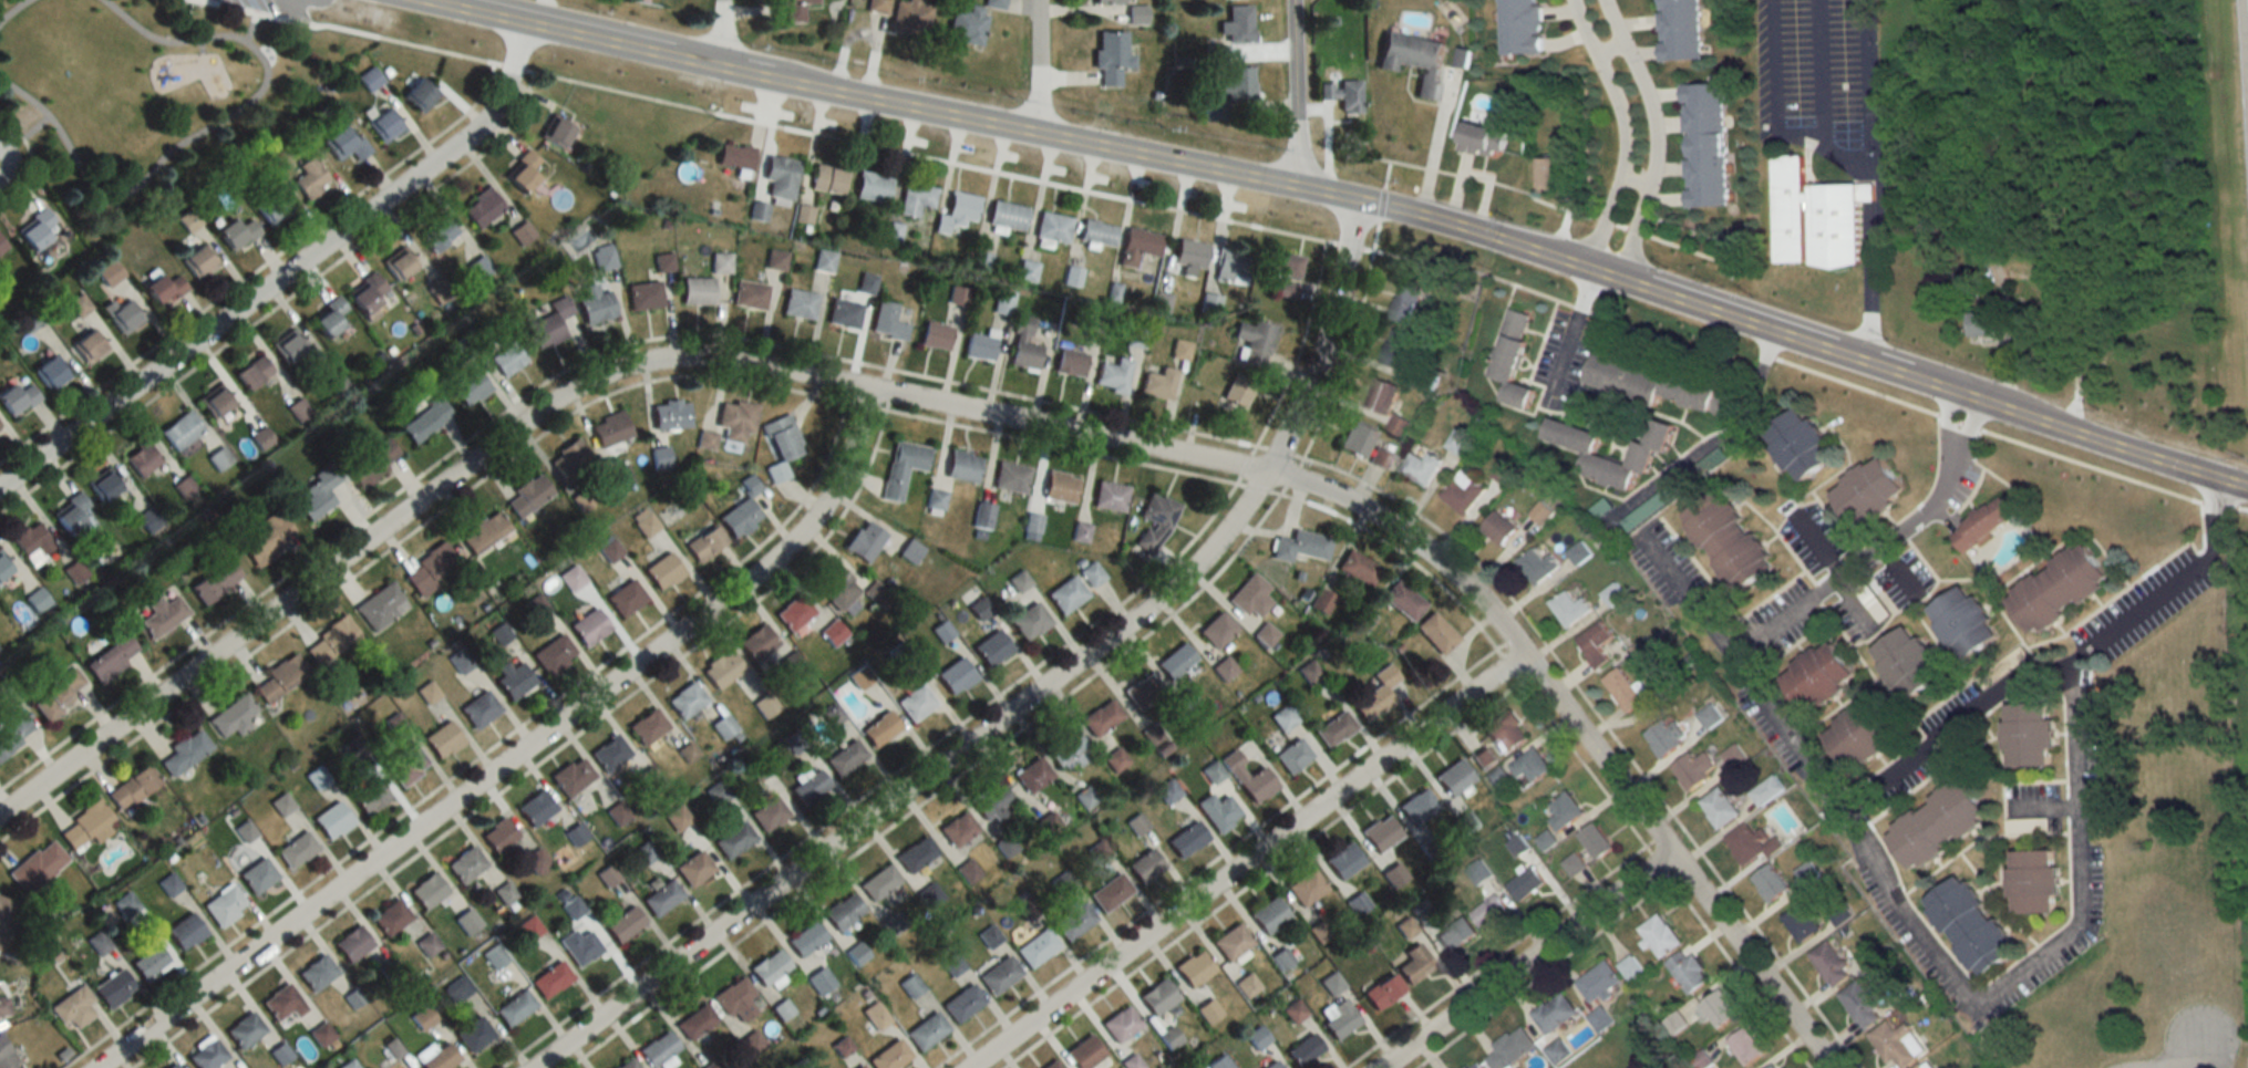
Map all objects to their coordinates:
road: (440, 2)
building: (1111, 2)
building: (993, 3)
road: (12, 10)
building: (795, 10)
building: (1136, 15)
building: (908, 17)
building: (966, 24)
building: (1237, 24)
building: (1517, 27)
building: (1677, 30)
road: (721, 34)
road: (184, 41)
road: (202, 45)
road: (1606, 49)
building: (1110, 58)
building: (1413, 60)
road: (1771, 64)
road: (1035, 69)
road: (1818, 73)
building: (370, 80)
road: (1867, 83)
park: (158, 87)
building: (1230, 91)
road: (1295, 92)
building: (419, 95)
building: (1342, 95)
road: (45, 117)
building: (384, 125)
road: (1623, 129)
building: (555, 132)
road: (1653, 134)
building: (1481, 141)
building: (343, 145)
building: (1703, 145)
road: (1435, 148)
road: (166, 157)
building: (734, 157)
building: (528, 158)
road: (32, 163)
building: (1547, 176)
road: (1635, 177)
building: (310, 178)
building: (520, 178)
building: (780, 178)
building: (827, 179)
building: (872, 187)
road: (1347, 196)
building: (915, 198)
building: (482, 207)
building: (271, 209)
road: (1864, 211)
building: (957, 212)
building: (1817, 212)
building: (1007, 216)
road: (1216, 218)
building: (1052, 228)
building: (37, 231)
building: (522, 232)
building: (236, 234)
building: (1096, 234)
building: (437, 235)
building: (1140, 246)
building: (1, 248)
building: (1189, 253)
building: (604, 258)
building: (775, 260)
building: (198, 261)
building: (824, 261)
building: (720, 263)
building: (399, 265)
building: (1281, 265)
building: (1233, 266)
building: (479, 268)
building: (107, 273)
road: (287, 274)
building: (866, 283)
building: (162, 289)
building: (1287, 289)
building: (697, 291)
building: (750, 294)
building: (367, 295)
building: (645, 295)
building: (1210, 303)
building: (798, 304)
building: (1404, 304)
building: (79, 305)
building: (595, 305)
building: (843, 313)
building: (124, 317)
building: (330, 318)
building: (888, 322)
building: (550, 323)
building: (1977, 323)
building: (1254, 335)
road: (1570, 335)
building: (935, 336)
building: (1137, 338)
building: (1023, 345)
building: (90, 346)
building: (979, 346)
building: (288, 348)
building: (1396, 349)
building: (1182, 350)
building: (1510, 359)
building: (507, 360)
building: (1070, 363)
building: (252, 372)
building: (50, 373)
building: (1113, 375)
building: (337, 383)
building: (1158, 383)
building: (468, 387)
building: (1657, 387)
building: (1238, 391)
road: (570, 393)
building: (1380, 396)
building: (17, 400)
building: (214, 403)
building: (670, 415)
building: (736, 421)
building: (426, 422)
building: (1396, 425)
building: (610, 429)
building: (181, 431)
building: (1357, 439)
road: (1718, 439)
building: (707, 440)
building: (1456, 442)
building: (1798, 445)
building: (782, 446)
building: (1640, 454)
building: (661, 457)
building: (1379, 457)
building: (142, 458)
building: (219, 459)
building: (570, 462)
building: (373, 463)
building: (961, 466)
building: (903, 467)
building: (1419, 468)
building: (620, 476)
building: (1011, 477)
building: (749, 485)
building: (104, 486)
building: (185, 487)
building: (1060, 487)
building: (1461, 491)
building: (1866, 492)
building: (318, 494)
building: (527, 495)
building: (1110, 496)
building: (935, 501)
building: (74, 516)
building: (982, 516)
building: (739, 518)
building: (149, 519)
building: (1155, 521)
building: (645, 522)
building: (1980, 523)
building: (1496, 528)
building: (482, 531)
building: (1081, 531)
building: (269, 538)
building: (864, 540)
building: (1725, 540)
building: (32, 542)
building: (704, 545)
building: (1300, 546)
road: (1879, 549)
building: (910, 550)
building: (1536, 566)
building: (3, 567)
building: (1358, 568)
building: (429, 570)
building: (662, 571)
building: (1091, 573)
building: (1019, 580)
building: (215, 581)
building: (835, 585)
building: (2054, 589)
building: (1066, 593)
building: (1611, 594)
building: (1250, 595)
building: (626, 598)
building: (1403, 600)
building: (1322, 601)
road: (1685, 604)
building: (381, 606)
building: (1568, 608)
building: (794, 612)
building: (163, 615)
building: (1362, 619)
building: (1029, 621)
building: (1961, 621)
building: (589, 626)
building: (1217, 630)
building: (832, 632)
building: (1436, 632)
building: (1265, 634)
building: (333, 639)
building: (756, 642)
building: (1594, 644)
building: (991, 646)
building: (554, 654)
building: (111, 659)
building: (1175, 661)
building: (1906, 661)
road: (2058, 667)
building: (721, 668)
building: (1224, 668)
building: (1309, 672)
building: (955, 675)
building: (1816, 675)
building: (281, 680)
building: (514, 681)
building: (1622, 689)
building: (1142, 692)
building: (1376, 694)
building: (56, 696)
road: (1031, 696)
building: (685, 699)
building: (915, 702)
building: (479, 709)
building: (1709, 716)
building: (234, 717)
building: (1101, 717)
building: (1283, 718)
building: (647, 726)
building: (723, 726)
building: (11, 727)
building: (879, 728)
building: (1334, 728)
road: (1582, 729)
building: (1505, 733)
building: (1859, 733)
building: (1152, 734)
building: (2027, 734)
building: (1663, 736)
building: (442, 739)
road: (1786, 742)
building: (1068, 749)
building: (186, 751)
building: (610, 753)
building: (1292, 755)
building: (1732, 756)
road: (517, 757)
building: (845, 757)
building: (1483, 758)
building: (408, 764)
building: (1529, 765)
building: (1692, 768)
building: (1031, 775)
building: (573, 776)
building: (1496, 776)
building: (1248, 777)
building: (1454, 777)
building: (810, 787)
building: (132, 788)
building: (716, 792)
building: (370, 795)
building: (1086, 798)
building: (991, 803)
building: (1417, 806)
building: (535, 807)
building: (1718, 807)
building: (1217, 810)
building: (1564, 810)
building: (769, 812)
building: (678, 818)
building: (332, 819)
building: (1936, 823)
building: (1048, 825)
building: (2025, 825)
building: (86, 826)
building: (957, 828)
building: (1381, 833)
building: (498, 834)
building: (577, 834)
building: (734, 839)
building: (1186, 839)
building: (1545, 839)
building: (1594, 840)
building: (1747, 843)
building: (1004, 846)
building: (1517, 846)
building: (297, 848)
building: (646, 852)
building: (915, 853)
road: (1245, 859)
building: (536, 860)
building: (1342, 860)
building: (465, 863)
building: (1572, 863)
building: (1145, 865)
building: (38, 867)
building: (694, 867)
building: (967, 871)
building: (258, 874)
building: (1394, 874)
building: (2032, 880)
building: (878, 882)
building: (1769, 882)
building: (1525, 883)
building: (1306, 886)
building: (427, 891)
building: (1110, 892)
building: (661, 896)
building: (225, 905)
building: (1027, 910)
building: (843, 911)
building: (1488, 911)
building: (3, 912)
building: (1268, 915)
building: (390, 916)
building: (1072, 920)
building: (466, 921)
building: (1800, 922)
building: (623, 923)
building: (893, 924)
building: (1969, 924)
building: (185, 931)
building: (1456, 935)
building: (1659, 935)
building: (805, 939)
building: (1231, 942)
building: (352, 943)
building: (427, 944)
building: (579, 946)
building: (1035, 947)
building: (856, 953)
building: (495, 956)
road: (1523, 957)
road: (2041, 957)
building: (149, 960)
building: (1828, 963)
building: (1414, 964)
building: (952, 965)
building: (769, 967)
building: (1629, 967)
building: (1193, 968)
building: (1685, 970)
building: (317, 972)
building: (998, 974)
building: (550, 979)
building: (819, 981)
building: (1598, 981)
building: (113, 988)
building: (1383, 992)
building: (1157, 996)
building: (735, 999)
building: (282, 1002)
building: (962, 1003)
building: (1860, 1004)
building: (3, 1007)
building: (73, 1007)
building: (514, 1007)
building: (1718, 1007)
building: (782, 1009)
building: (1208, 1010)
building: (1295, 1010)
building: (1554, 1013)
building: (1339, 1017)
building: (1599, 1018)
building: (695, 1022)
building: (1120, 1024)
building: (245, 1029)
building: (926, 1030)
building: (321, 1034)
building: (473, 1034)
building: (1169, 1037)
building: (1257, 1037)
building: (752, 1043)
building: (1895, 1044)
building: (1744, 1046)
building: (1509, 1047)
building: (393, 1048)
building: (658, 1048)
building: (1303, 1049)
building: (1084, 1051)
building: (4, 1054)
building: (206, 1054)
building: (279, 1054)
road: (2177, 1054)
building: (889, 1056)
building: (440, 1058)
building: (1220, 1062)
building: (627, 1064)
building: (800, 1064)
building: (349, 1065)
building: (712, 1065)
building: (1271, 1065)
building: (1474, 1065)
building: (172, 1066)
building: (858, 1066)
building: (1052, 1066)
building: (1771, 1066)

